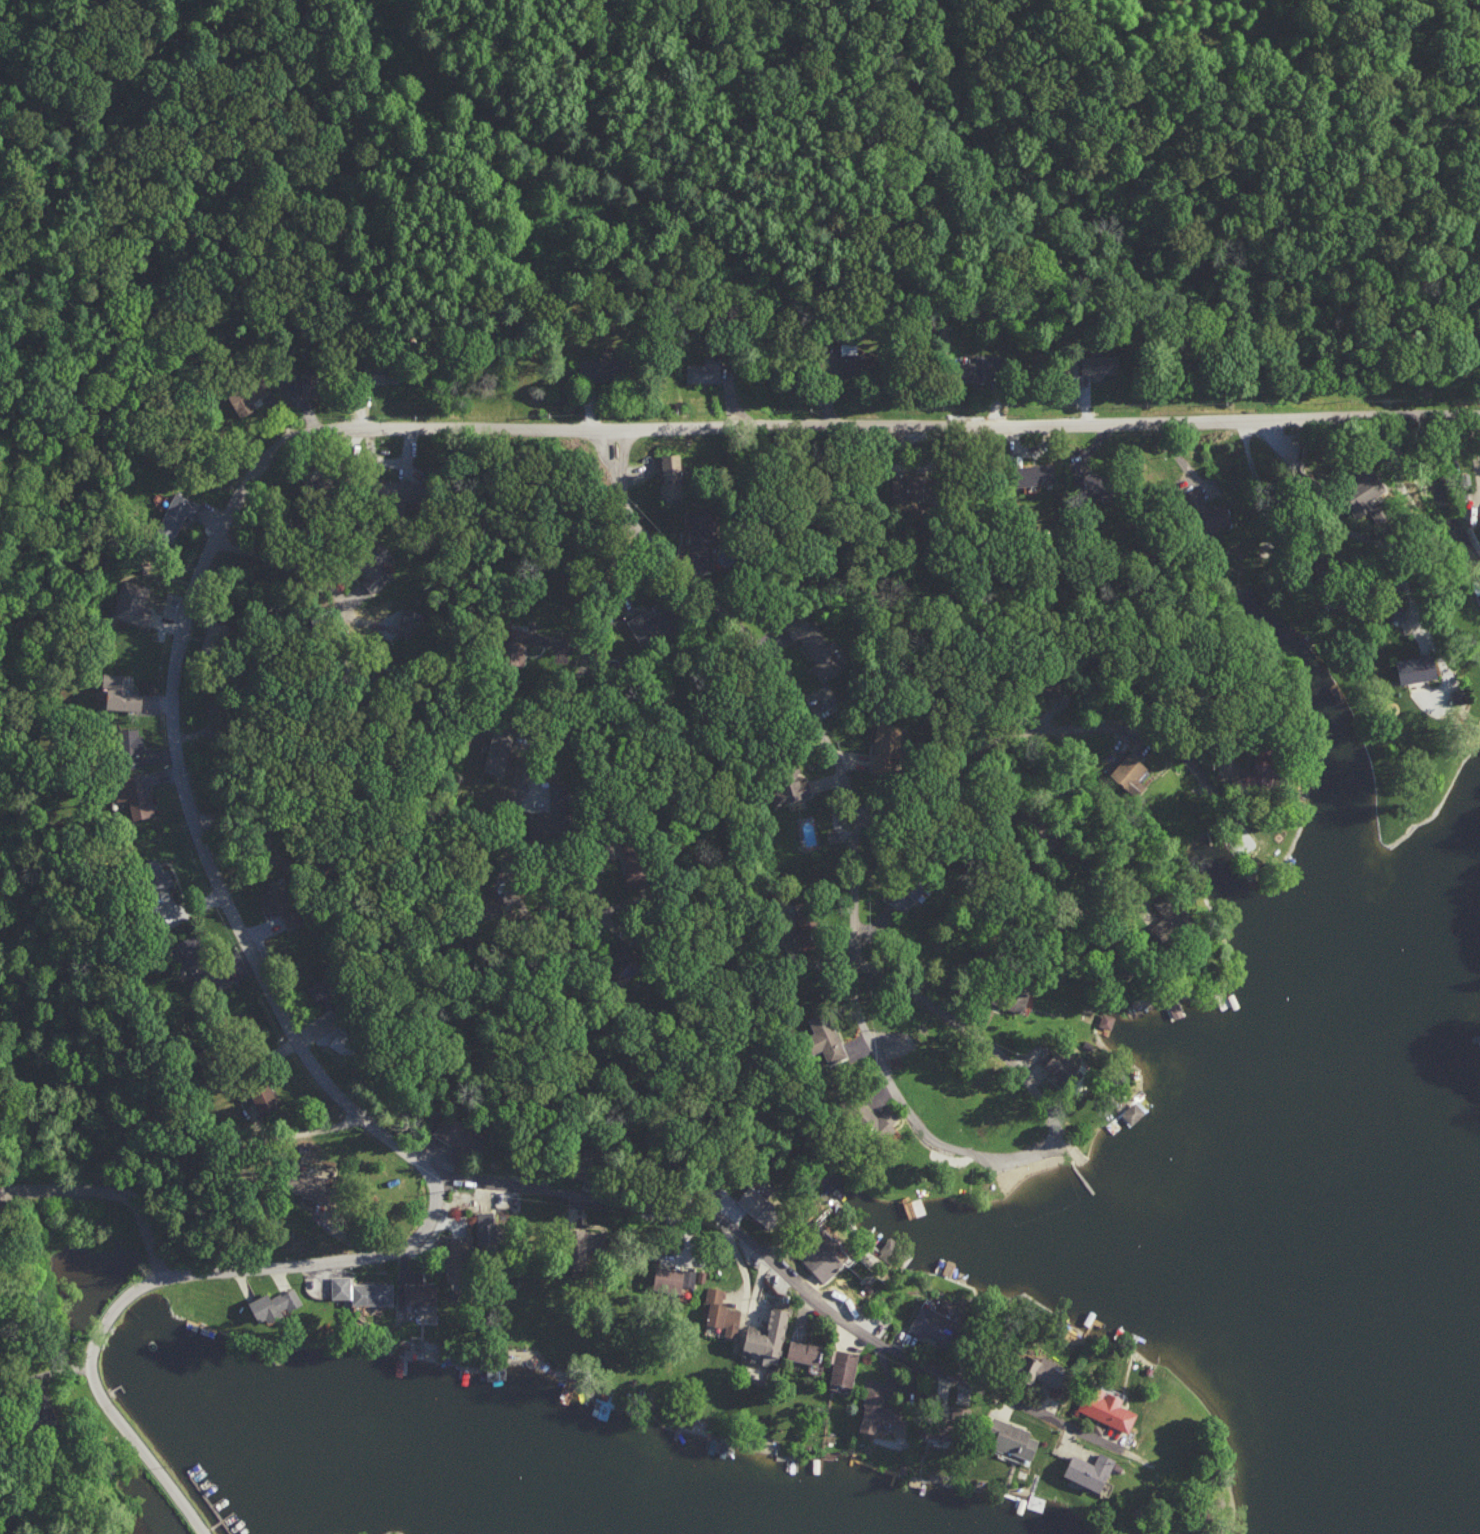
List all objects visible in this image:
building: (1479, 333)
building: (851, 362)
building: (1099, 364)
building: (598, 369)
building: (705, 370)
building: (979, 373)
building: (381, 374)
building: (308, 382)
building: (244, 400)
road: (906, 416)
road: (1255, 473)
building: (673, 474)
building: (1038, 474)
building: (1088, 483)
building: (908, 486)
building: (401, 490)
building: (1374, 496)
building: (1212, 510)
building: (176, 514)
building: (703, 529)
road: (1369, 546)
road: (277, 561)
building: (375, 576)
building: (132, 602)
building: (655, 620)
building: (409, 622)
building: (517, 645)
building: (815, 647)
road: (586, 654)
building: (1419, 668)
road: (778, 675)
building: (122, 691)
road: (1031, 730)
building: (131, 740)
building: (888, 749)
building: (496, 755)
road: (575, 764)
building: (1131, 773)
building: (792, 792)
building: (135, 796)
building: (834, 838)
road: (1020, 866)
building: (159, 875)
building: (907, 892)
building: (282, 905)
road: (551, 937)
building: (201, 960)
building: (327, 994)
building: (1018, 999)
building: (1107, 1018)
building: (826, 1037)
building: (1057, 1061)
road: (341, 1090)
building: (264, 1095)
building: (1132, 1113)
building: (866, 1116)
building: (887, 1117)
building: (458, 1134)
road: (1057, 1151)
building: (314, 1186)
road: (107, 1191)
building: (759, 1206)
building: (487, 1228)
building: (818, 1257)
building: (673, 1276)
road: (783, 1277)
building: (362, 1290)
building: (420, 1293)
building: (276, 1304)
building: (721, 1311)
building: (938, 1327)
building: (770, 1336)
building: (806, 1350)
building: (844, 1367)
building: (1048, 1370)
building: (1107, 1408)
building: (879, 1414)
building: (949, 1425)
building: (1014, 1439)
building: (1091, 1470)

